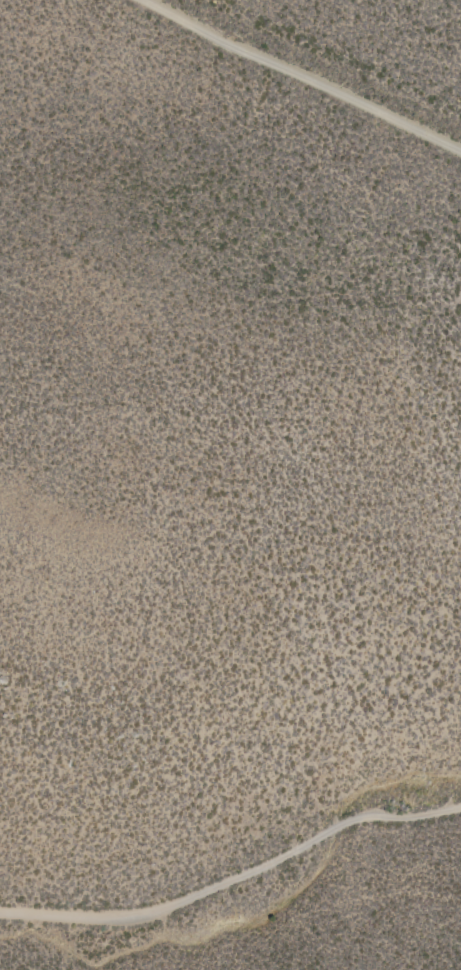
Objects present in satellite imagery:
road: (298, 79)
road: (233, 876)

